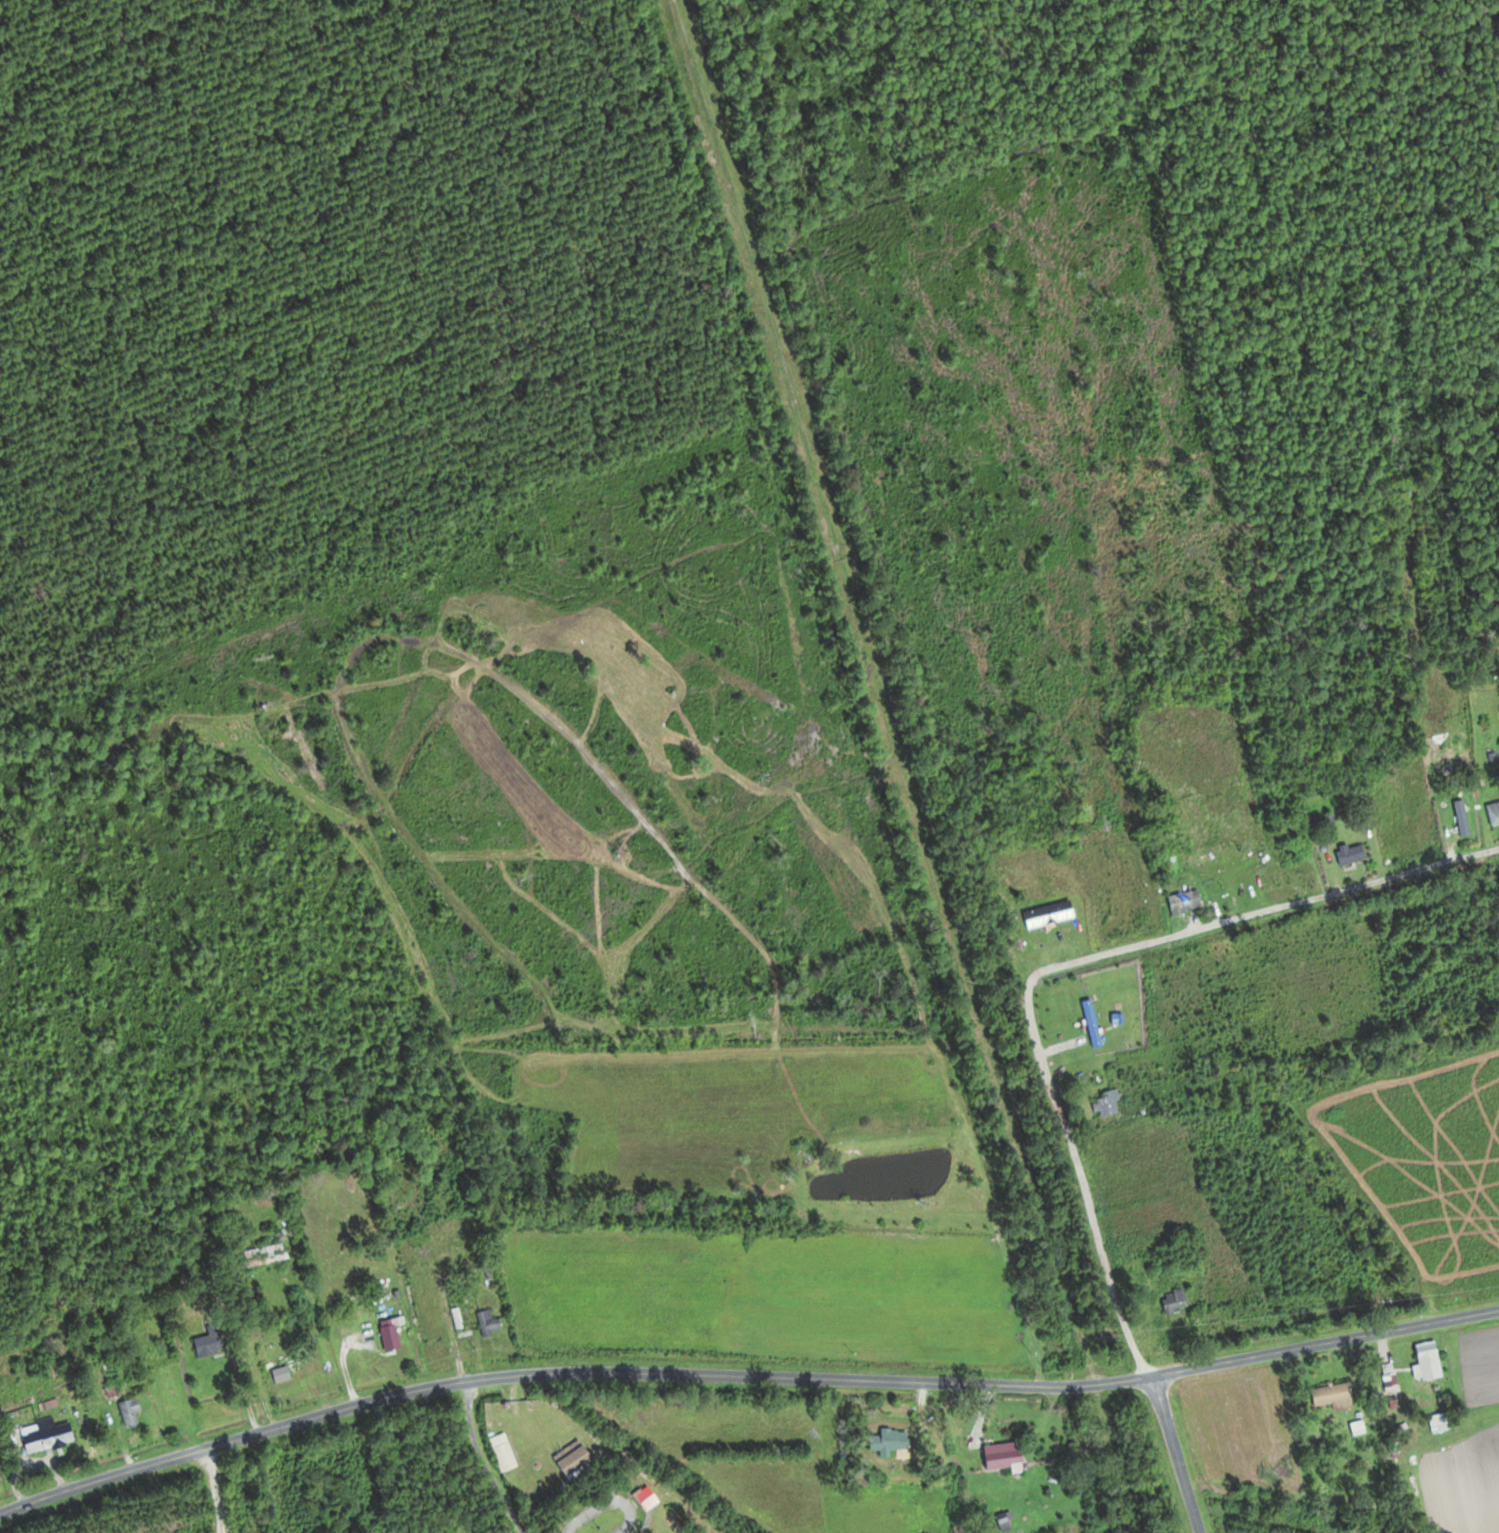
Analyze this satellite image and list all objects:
building: (1495, 812)
building: (1465, 817)
building: (1353, 854)
building: (1188, 901)
building: (1051, 914)
road: (1060, 965)
building: (1093, 1022)
building: (1180, 1297)
building: (475, 1315)
building: (393, 1334)
building: (213, 1340)
building: (1431, 1359)
building: (286, 1373)
road: (743, 1377)
building: (1393, 1380)
building: (1335, 1397)
building: (132, 1412)
building: (50, 1435)
building: (895, 1440)
road: (1174, 1454)
building: (507, 1456)
building: (576, 1457)
building: (1006, 1457)
road: (239, 1483)

